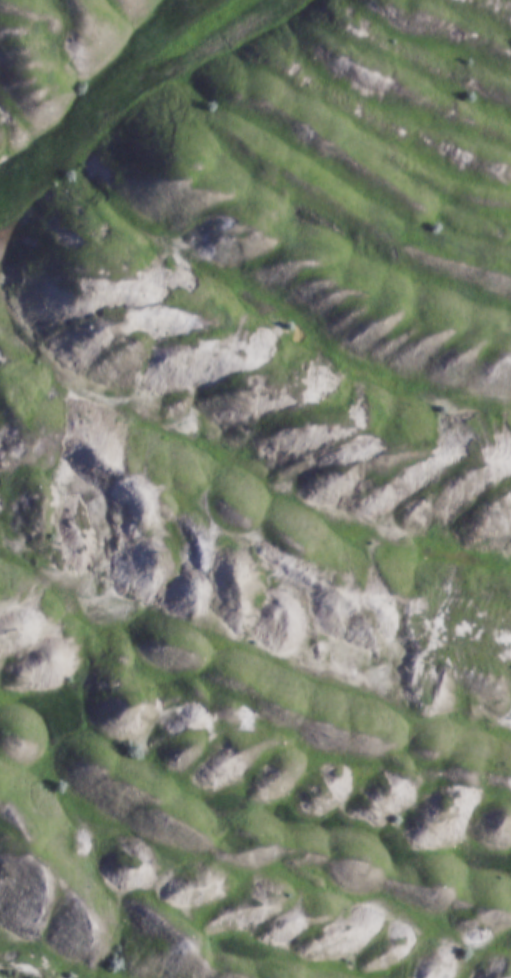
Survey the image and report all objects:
road: (120, 99)
quarry: (255, 489)

